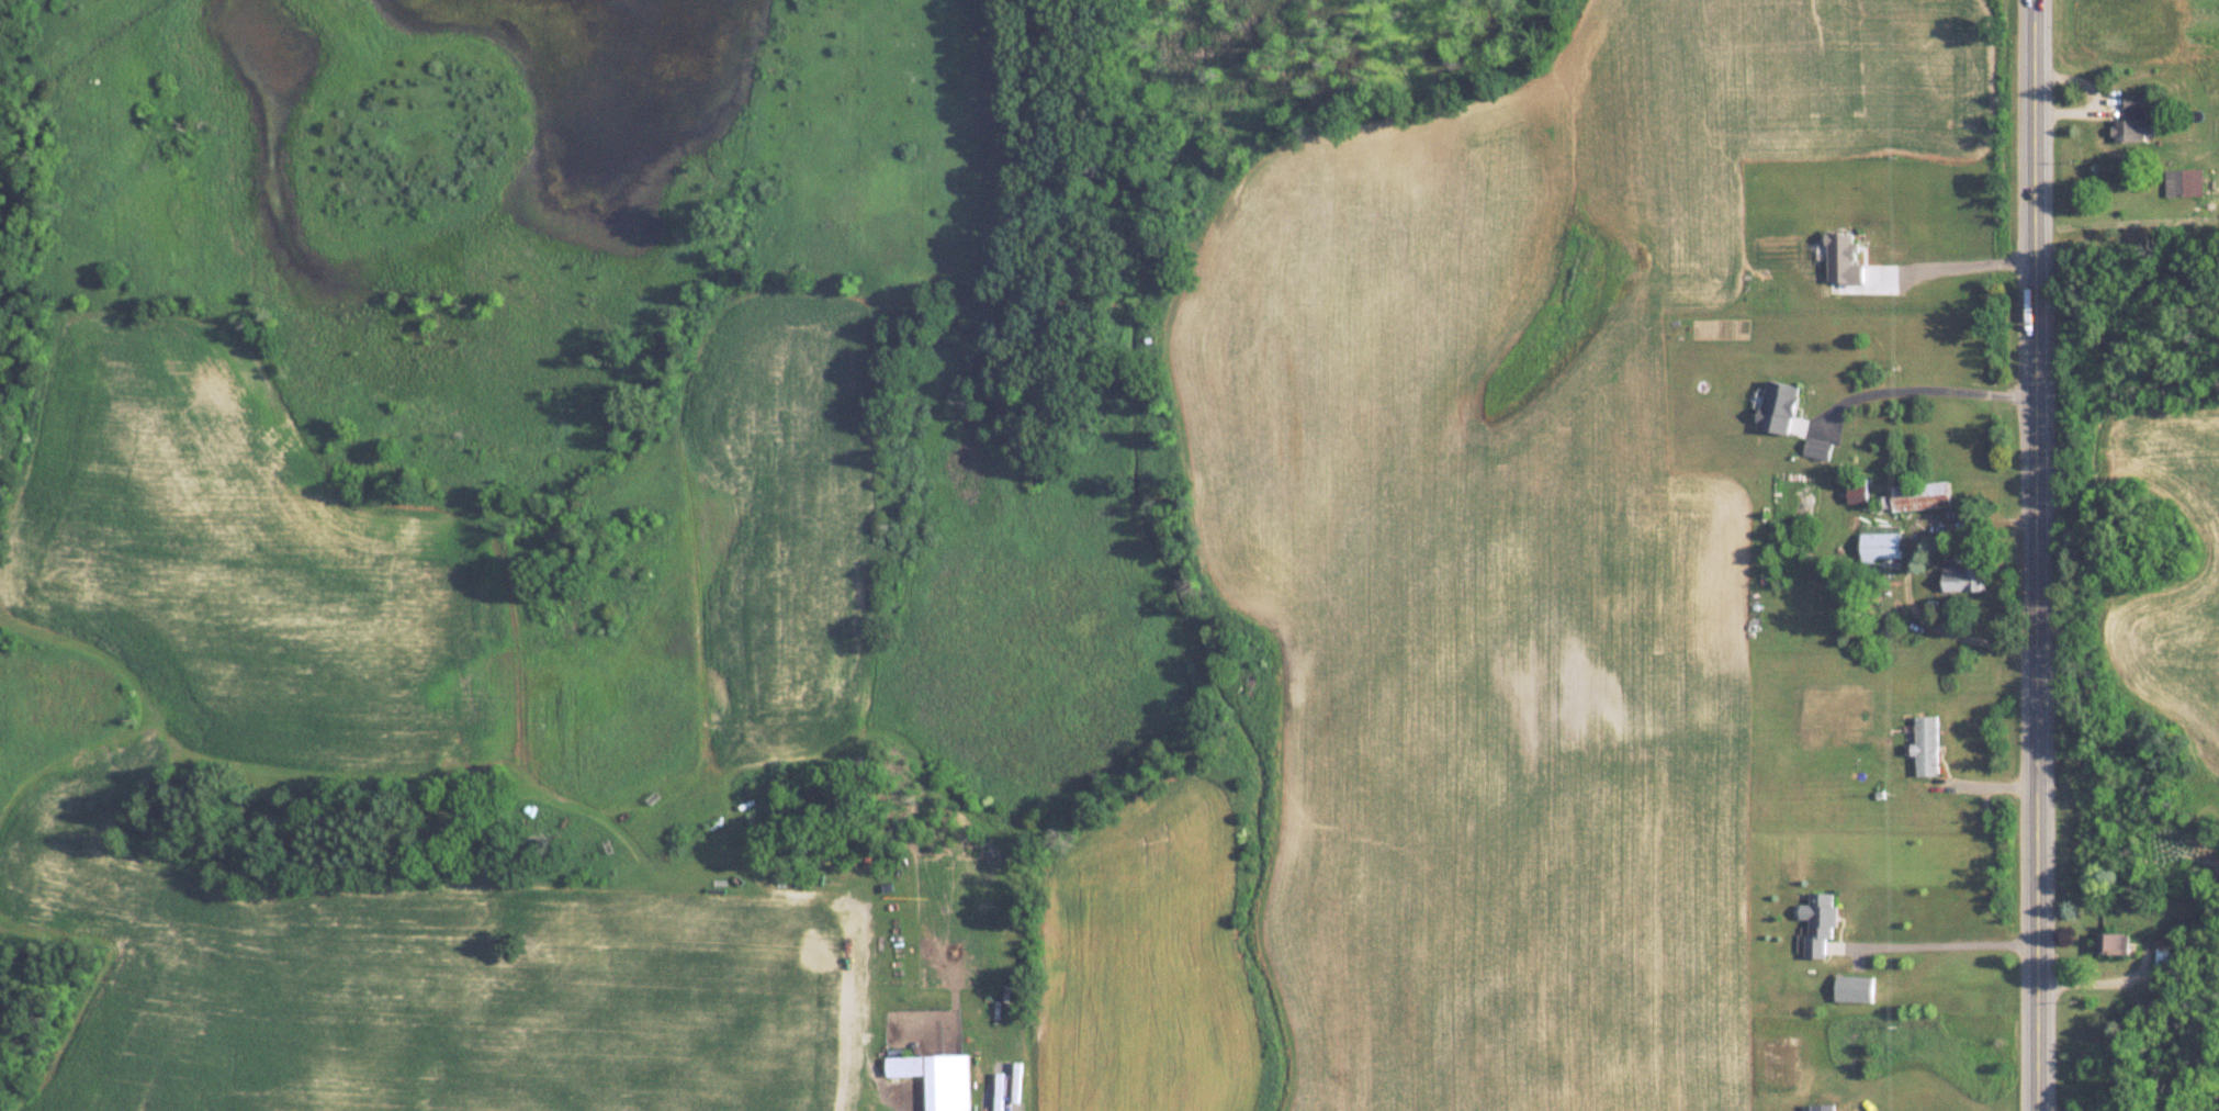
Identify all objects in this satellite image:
building: (2134, 120)
building: (2184, 181)
road: (1953, 269)
road: (1924, 388)
building: (1782, 405)
building: (1821, 447)
building: (1859, 489)
building: (1923, 495)
building: (1883, 545)
road: (2041, 554)
building: (1967, 579)
building: (1927, 745)
building: (1822, 922)
road: (1960, 941)
building: (2116, 943)
building: (2163, 957)
road: (2103, 984)
building: (1855, 988)
building: (2150, 1006)
building: (938, 1078)
building: (1822, 1108)

